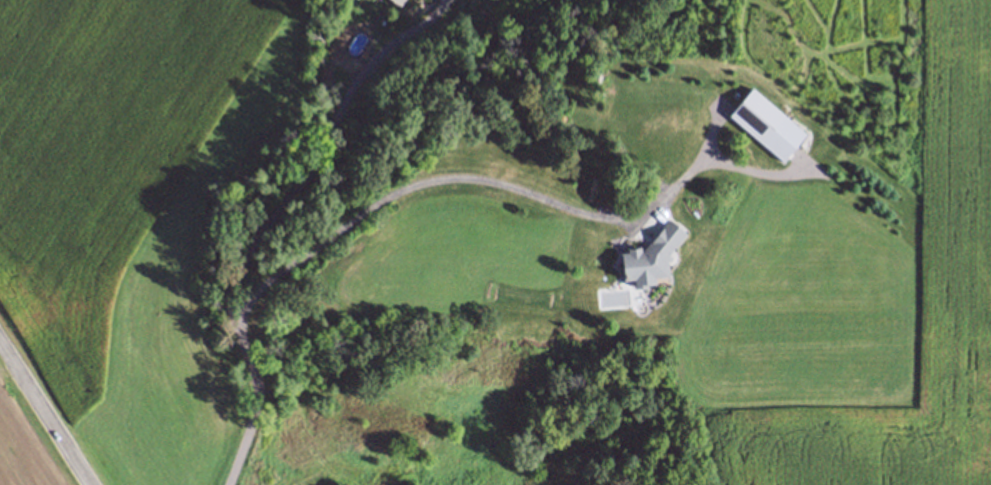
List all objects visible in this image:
building: (763, 125)
road: (468, 168)
road: (263, 217)
building: (651, 254)
road: (43, 413)

